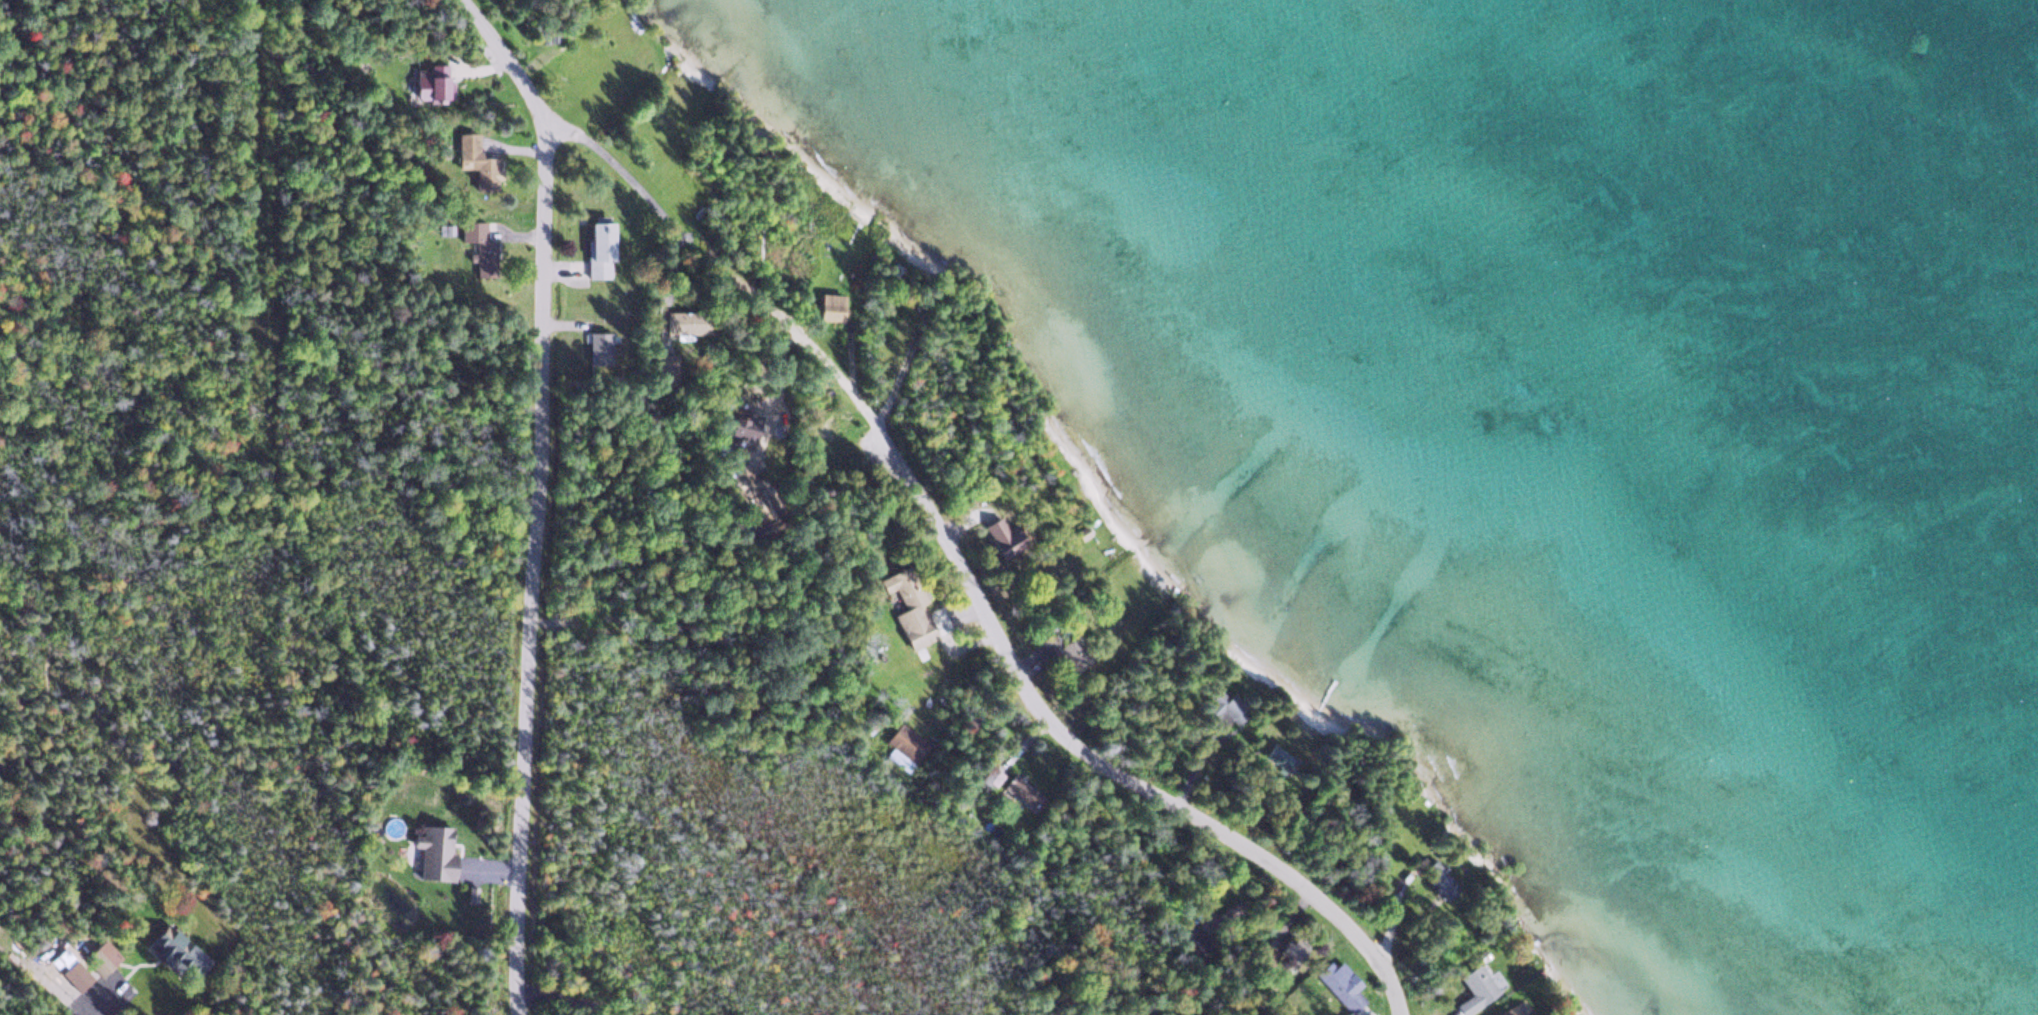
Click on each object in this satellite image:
building: (427, 82)
building: (474, 164)
building: (596, 237)
building: (477, 246)
building: (829, 306)
building: (676, 324)
building: (596, 347)
building: (665, 366)
building: (739, 425)
road: (932, 514)
building: (1002, 537)
road: (534, 568)
building: (906, 609)
building: (1225, 710)
building: (901, 745)
building: (988, 775)
building: (1015, 789)
building: (432, 851)
building: (1440, 878)
building: (1278, 949)
building: (176, 954)
building: (95, 960)
road: (108, 982)
building: (1338, 983)
building: (1477, 983)
building: (1505, 1013)

